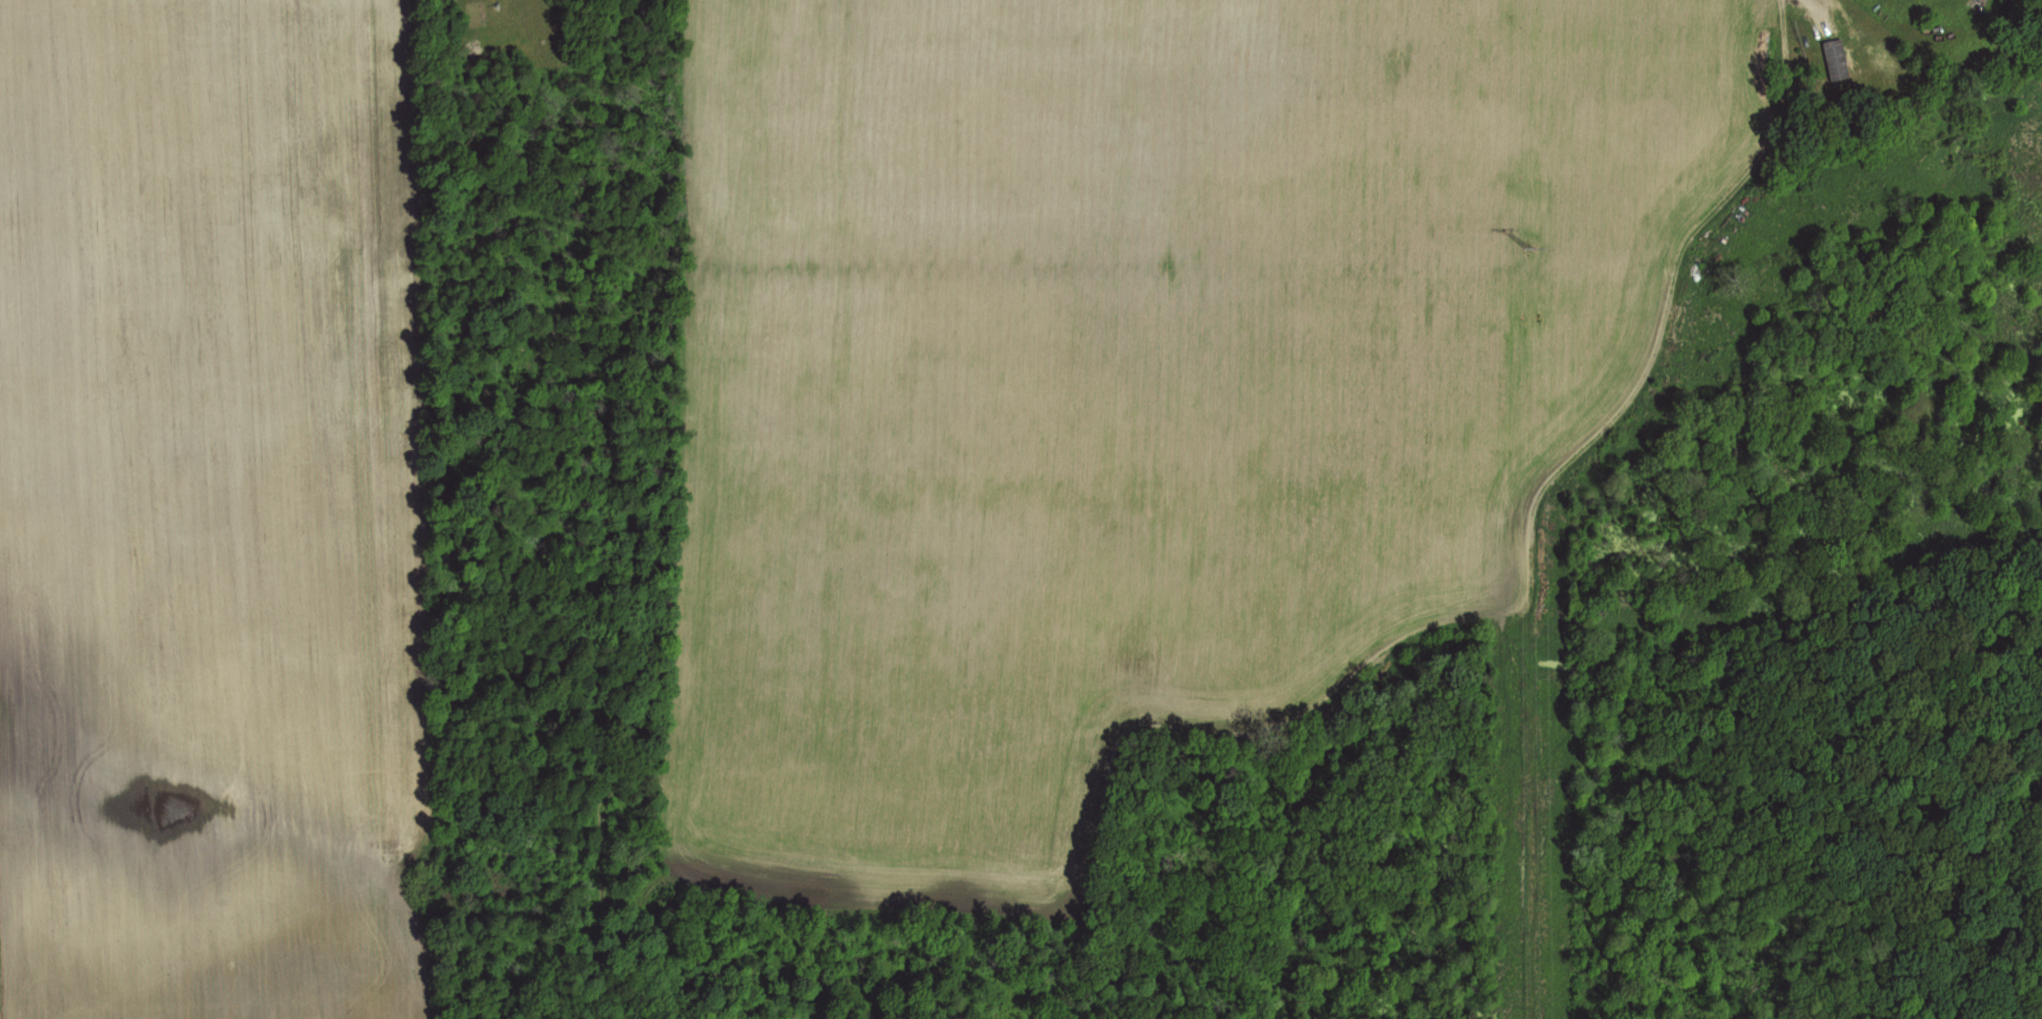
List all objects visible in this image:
building: (1837, 60)

